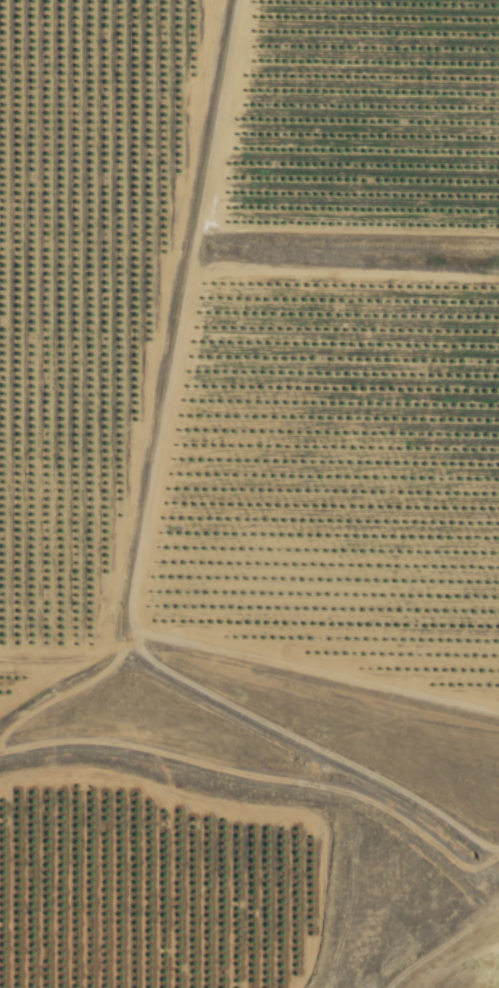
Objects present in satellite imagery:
road: (183, 317)
road: (318, 671)
road: (312, 748)
road: (246, 773)
road: (486, 866)

